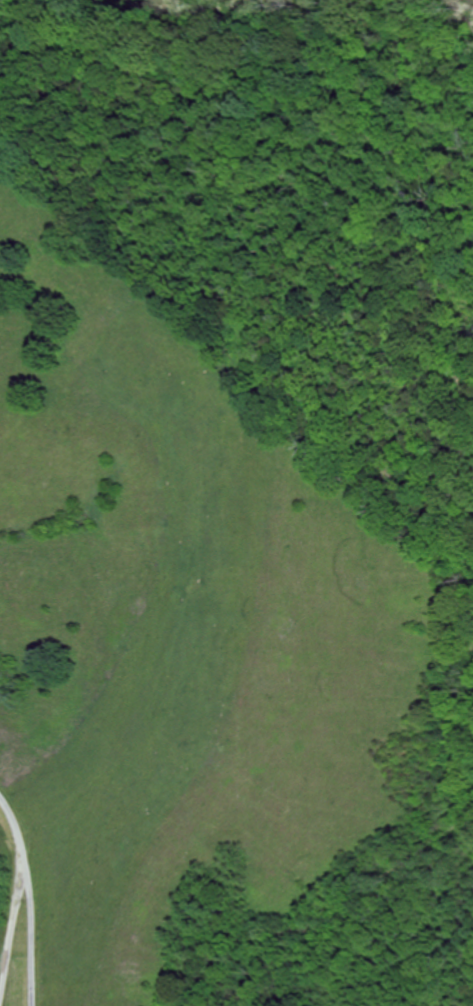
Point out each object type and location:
road: (37, 895)
road: (17, 930)

